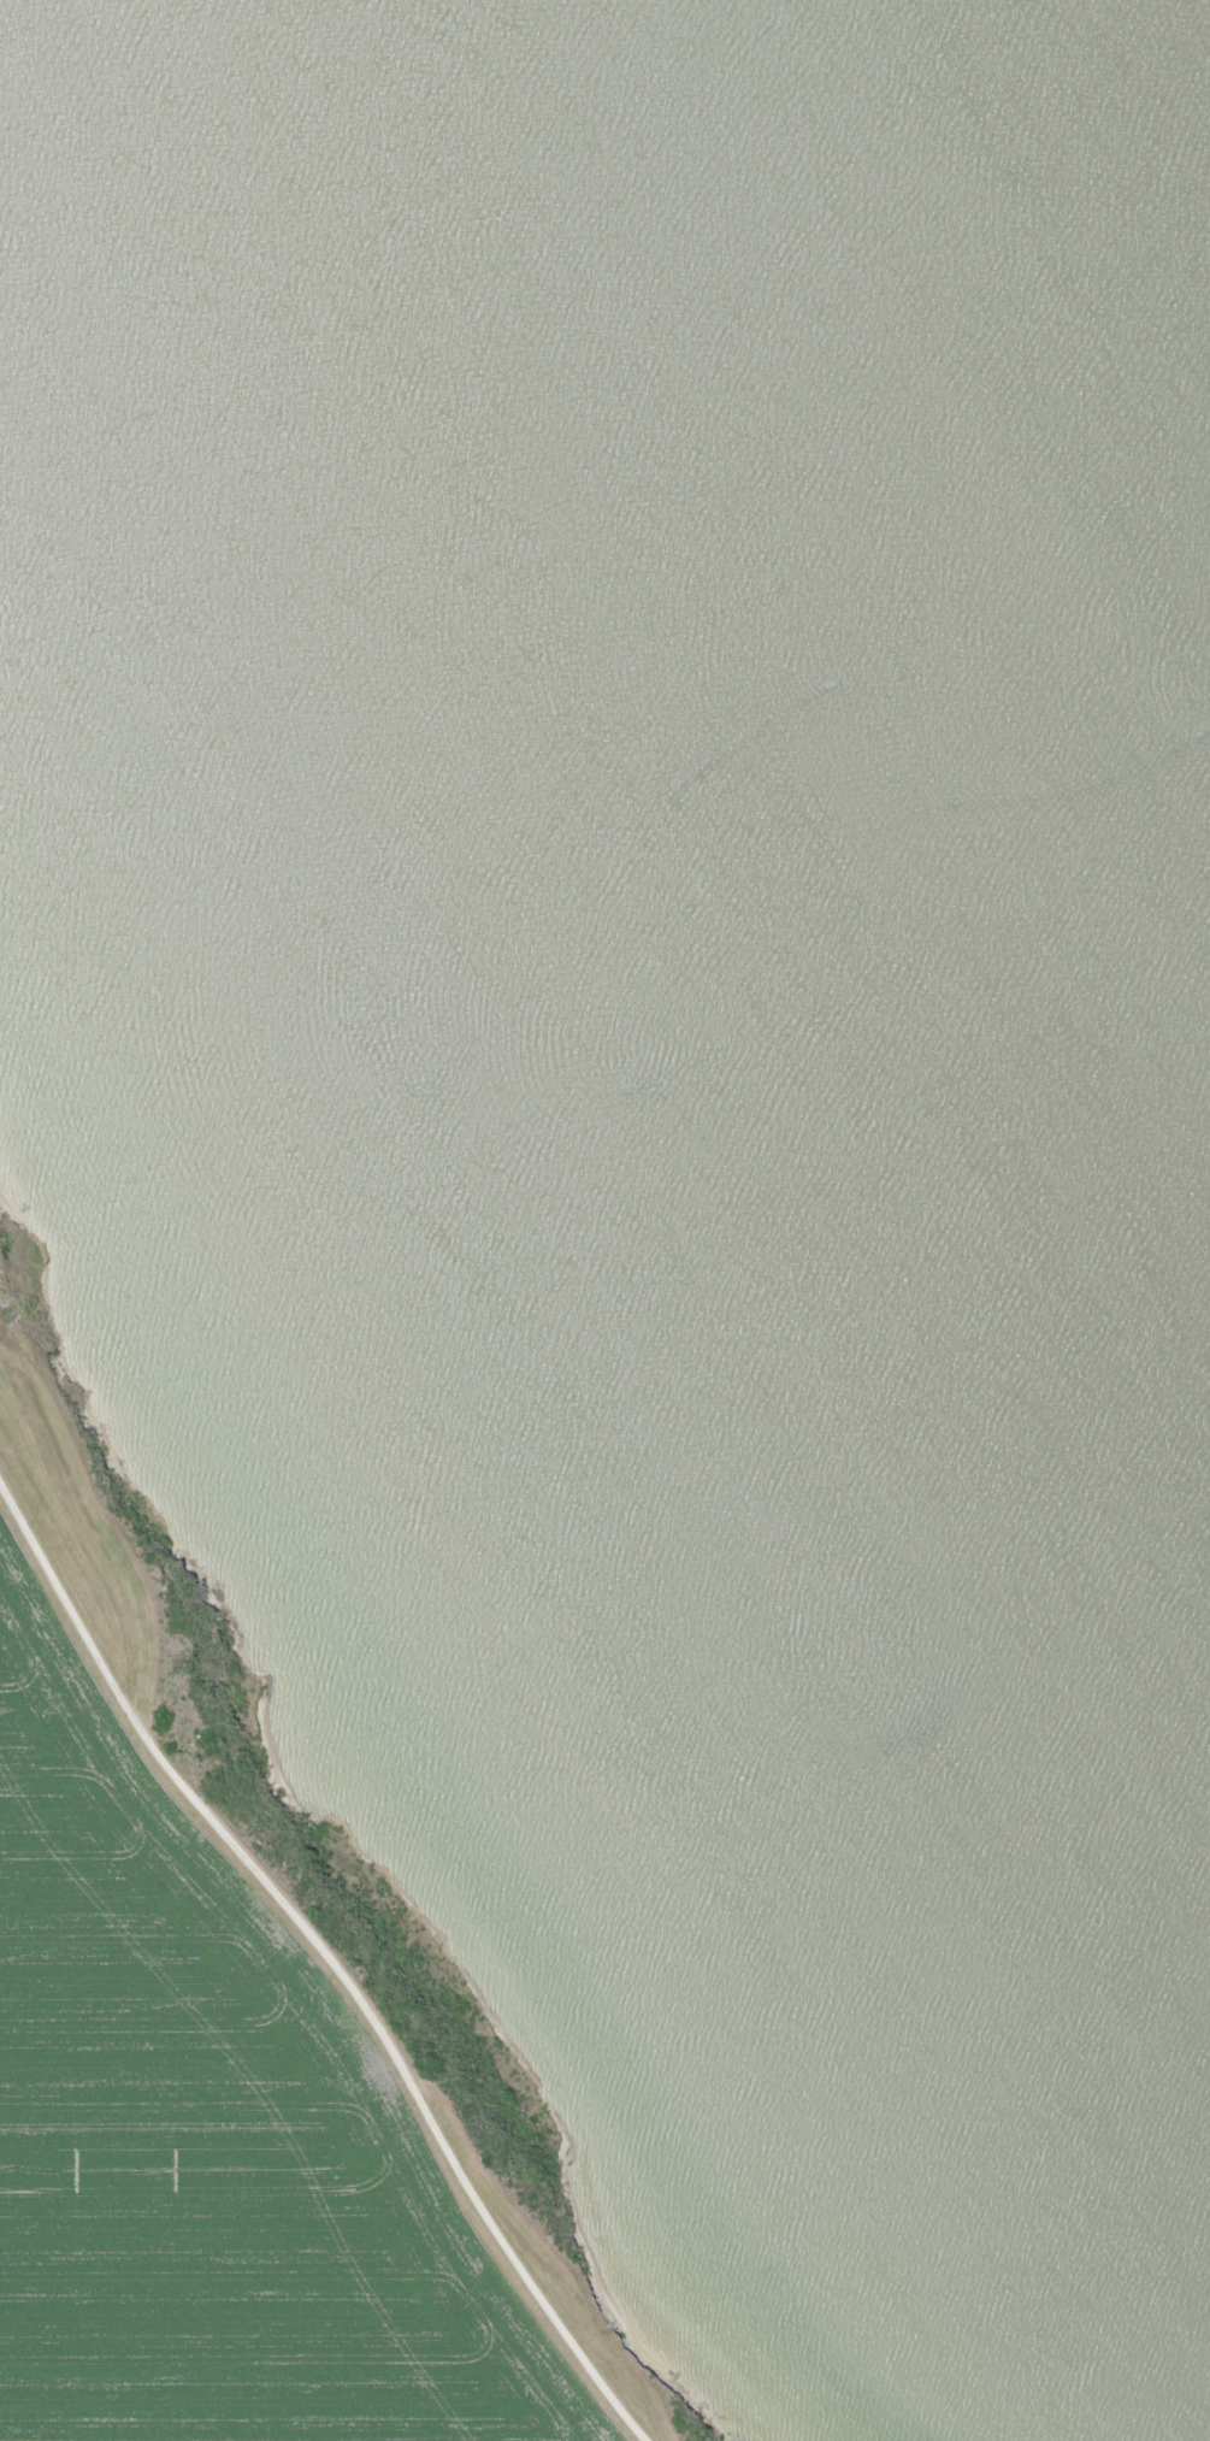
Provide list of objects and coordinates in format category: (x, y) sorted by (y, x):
road: (329, 1961)

